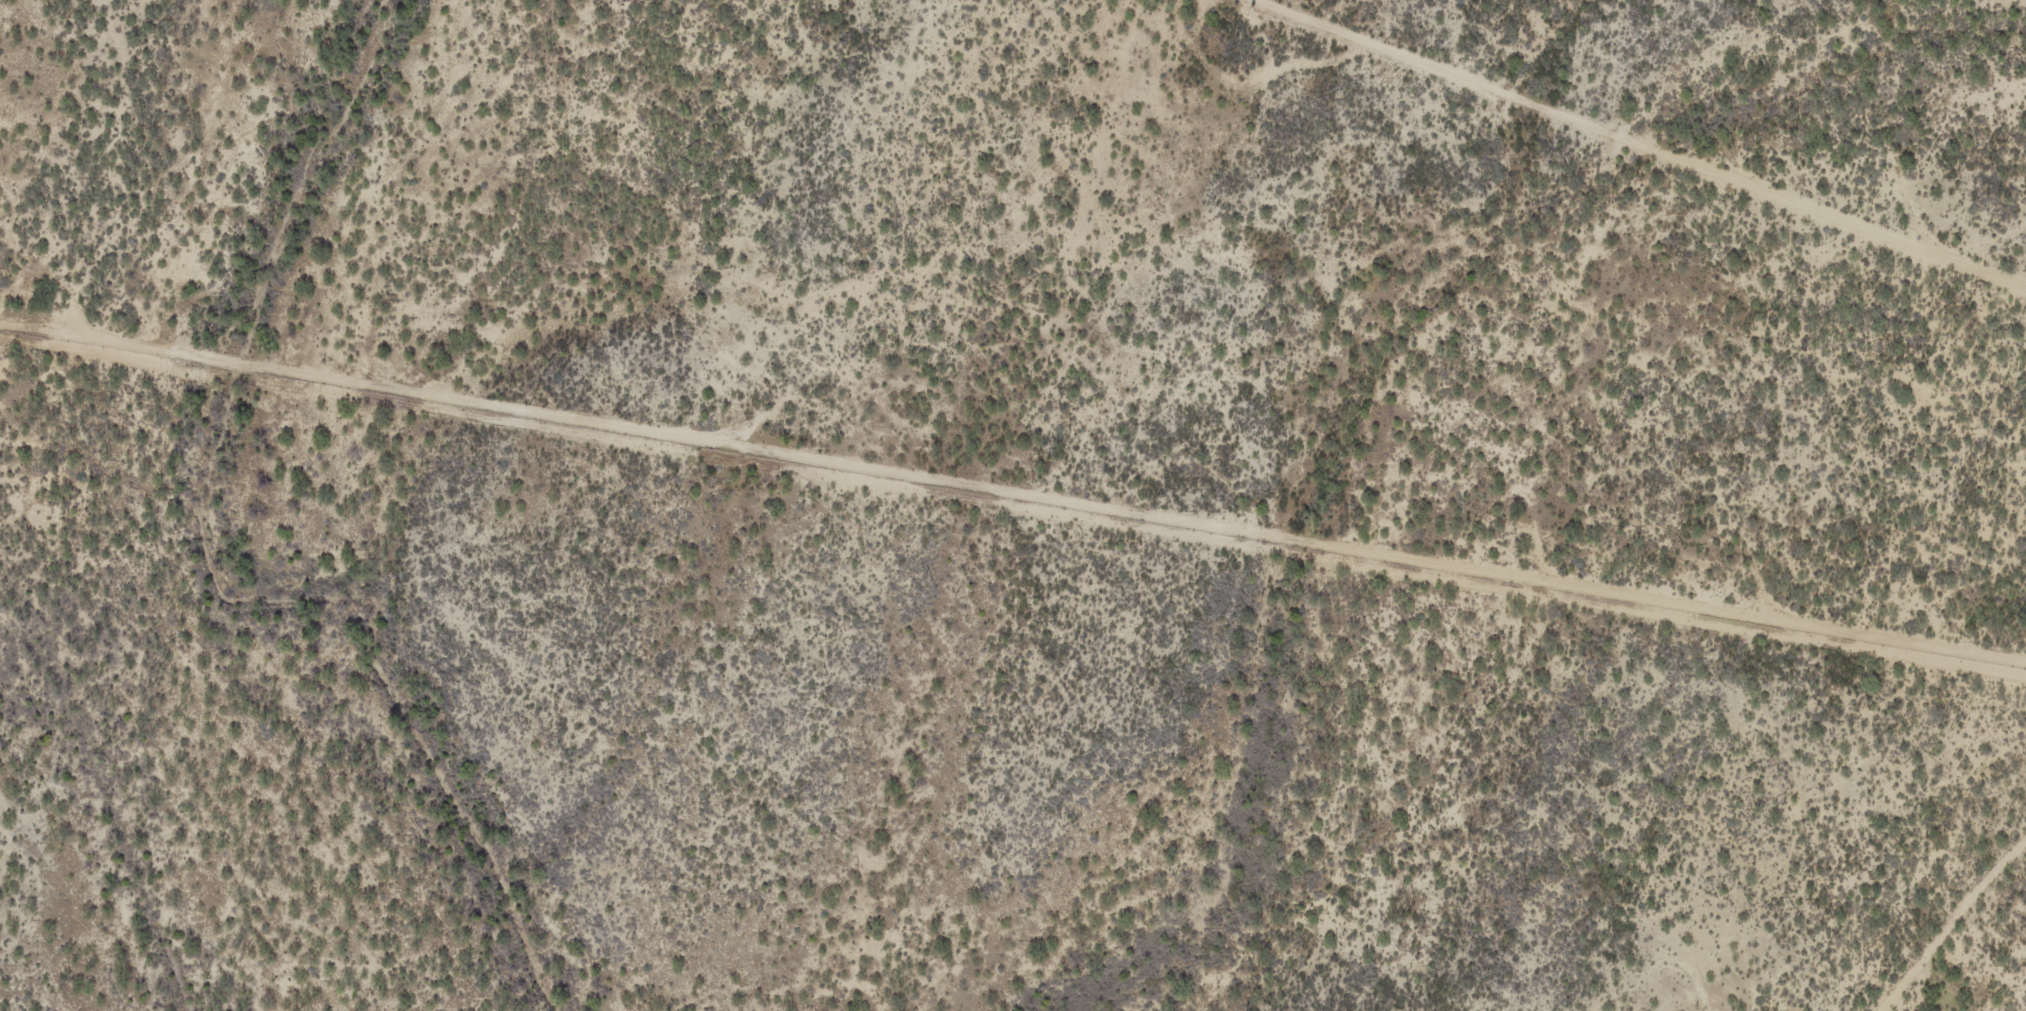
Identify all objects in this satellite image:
road: (1013, 502)

